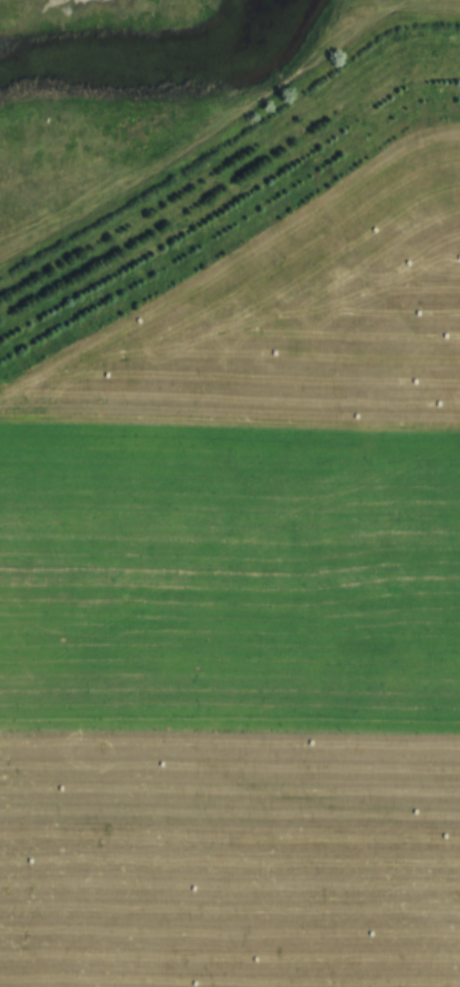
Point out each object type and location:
road: (230, 424)

